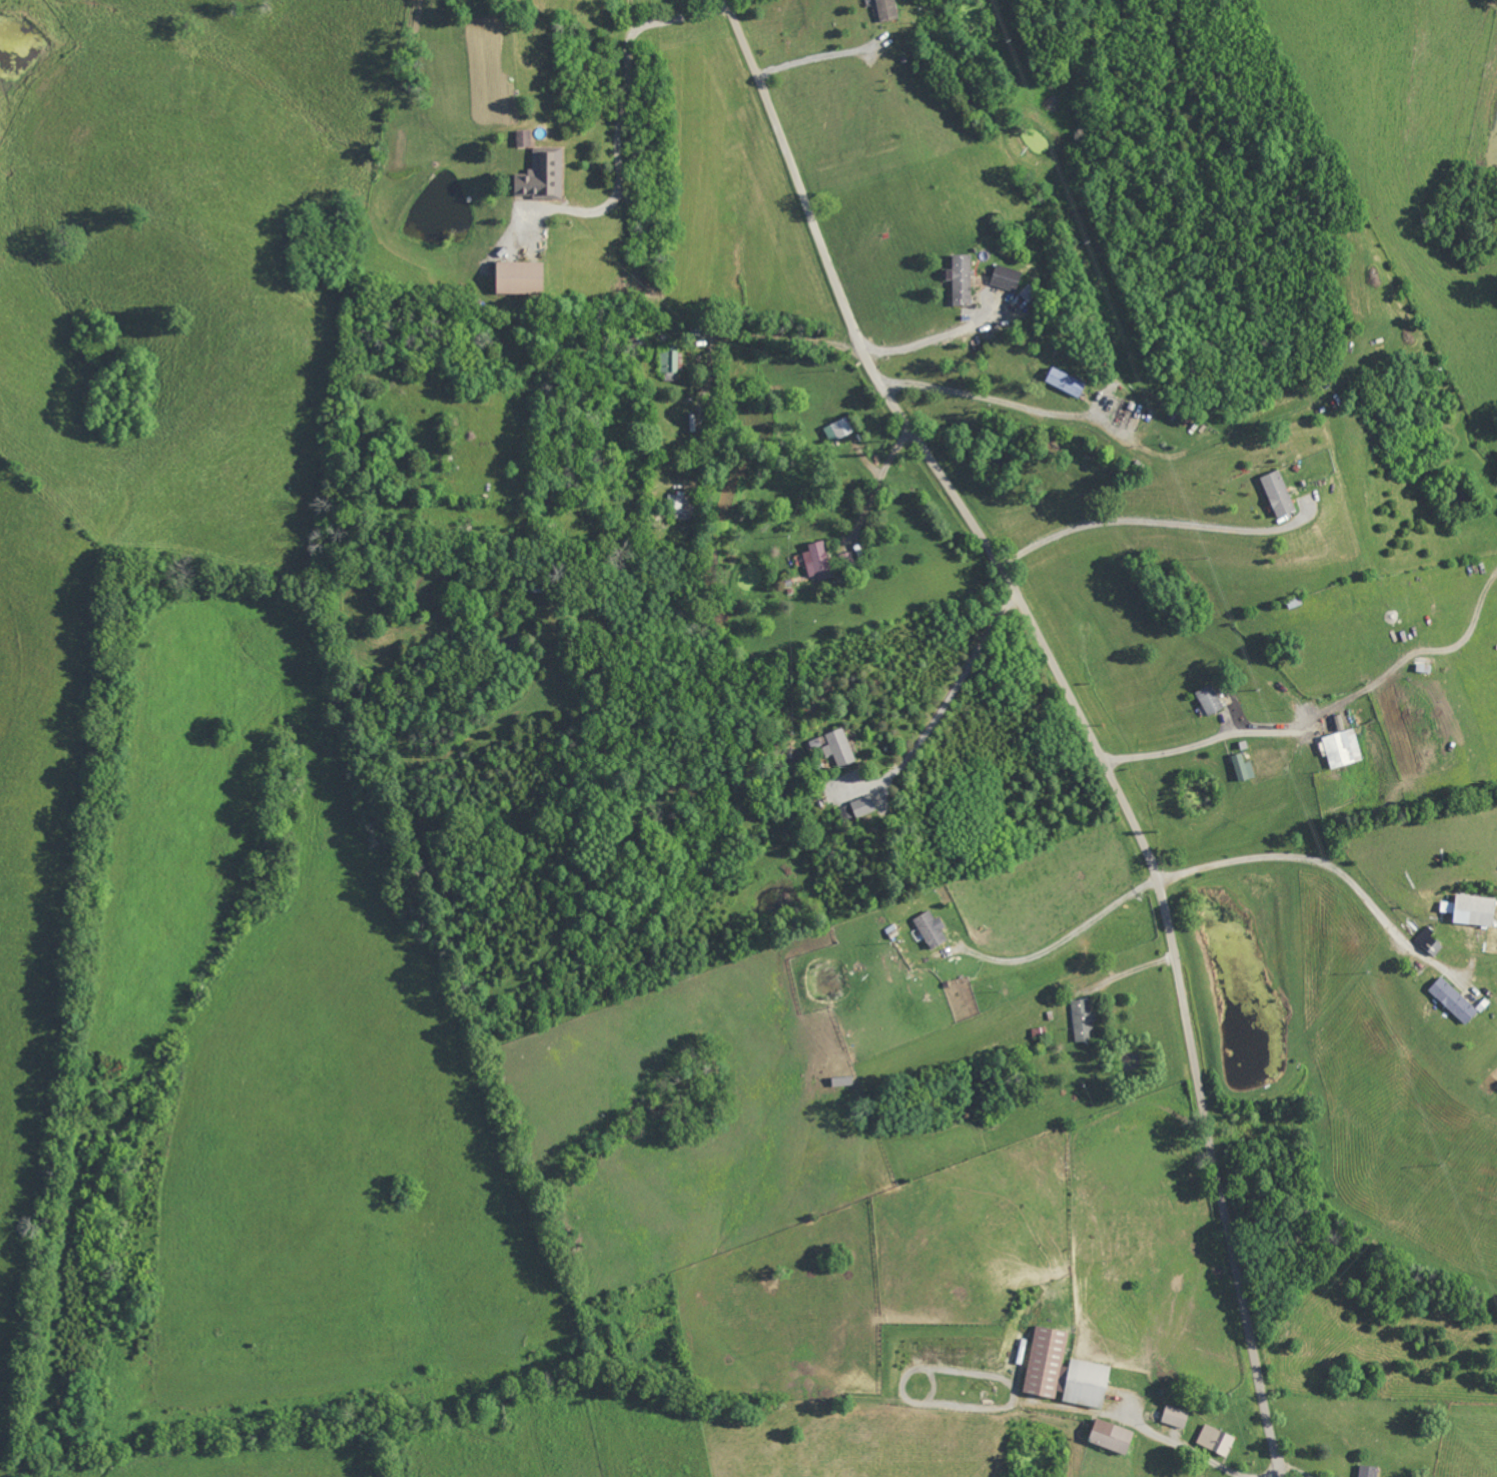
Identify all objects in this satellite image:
building: (888, 10)
road: (818, 58)
road: (622, 110)
building: (524, 139)
building: (542, 176)
building: (521, 278)
building: (1007, 278)
building: (961, 280)
building: (669, 364)
building: (1066, 383)
road: (987, 400)
building: (839, 430)
building: (1279, 495)
building: (681, 507)
road: (1144, 523)
building: (819, 562)
road: (951, 691)
building: (1210, 701)
road: (1080, 710)
road: (1328, 714)
building: (840, 749)
building: (1343, 749)
building: (1241, 768)
building: (858, 810)
road: (1328, 866)
building: (1472, 911)
building: (932, 930)
road: (1067, 937)
building: (1428, 942)
building: (1454, 1001)
building: (1083, 1021)
building: (843, 1083)
building: (1065, 1372)
building: (1176, 1417)
building: (1112, 1436)
building: (1216, 1440)
road: (1188, 1450)
building: (1368, 1471)

